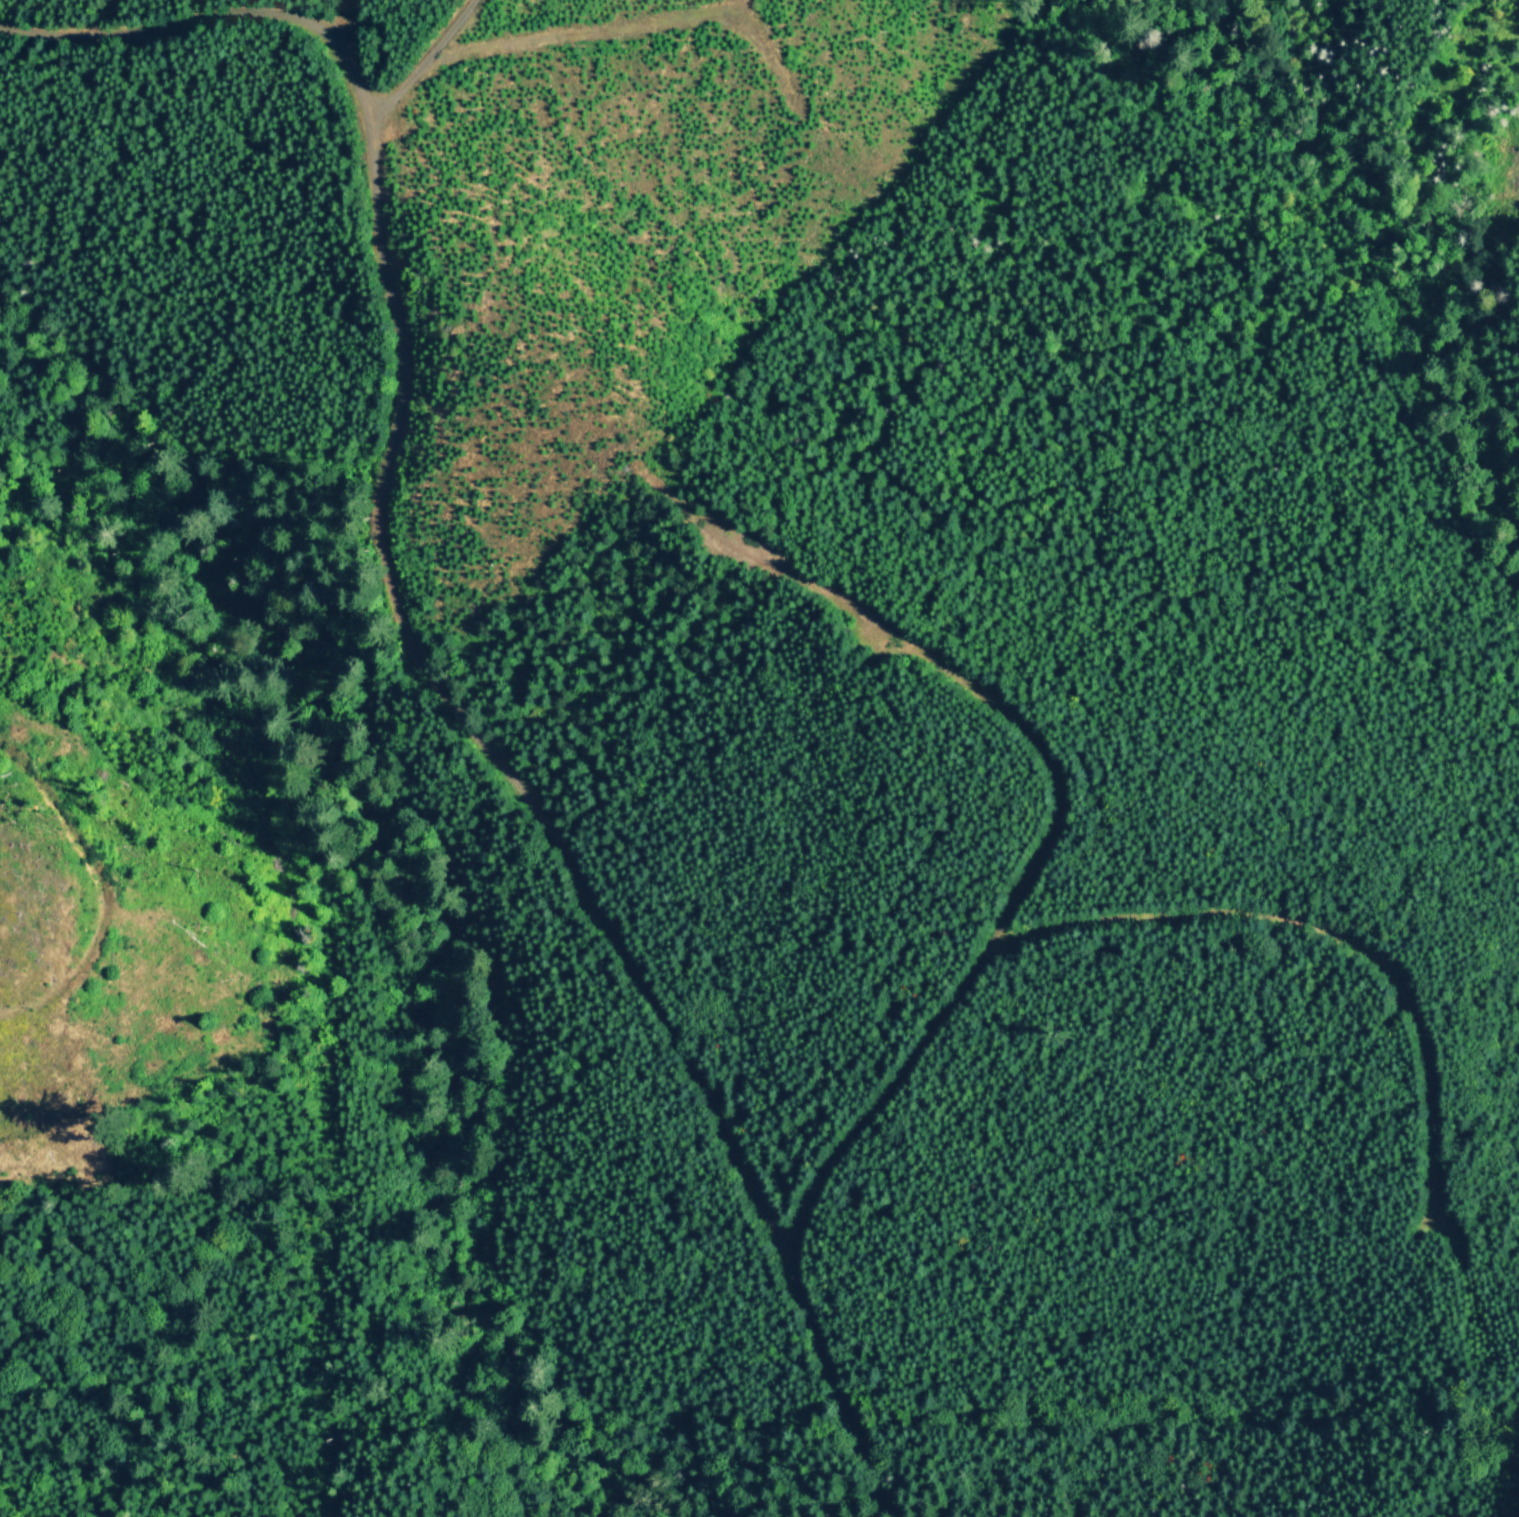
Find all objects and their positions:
road: (523, 782)

